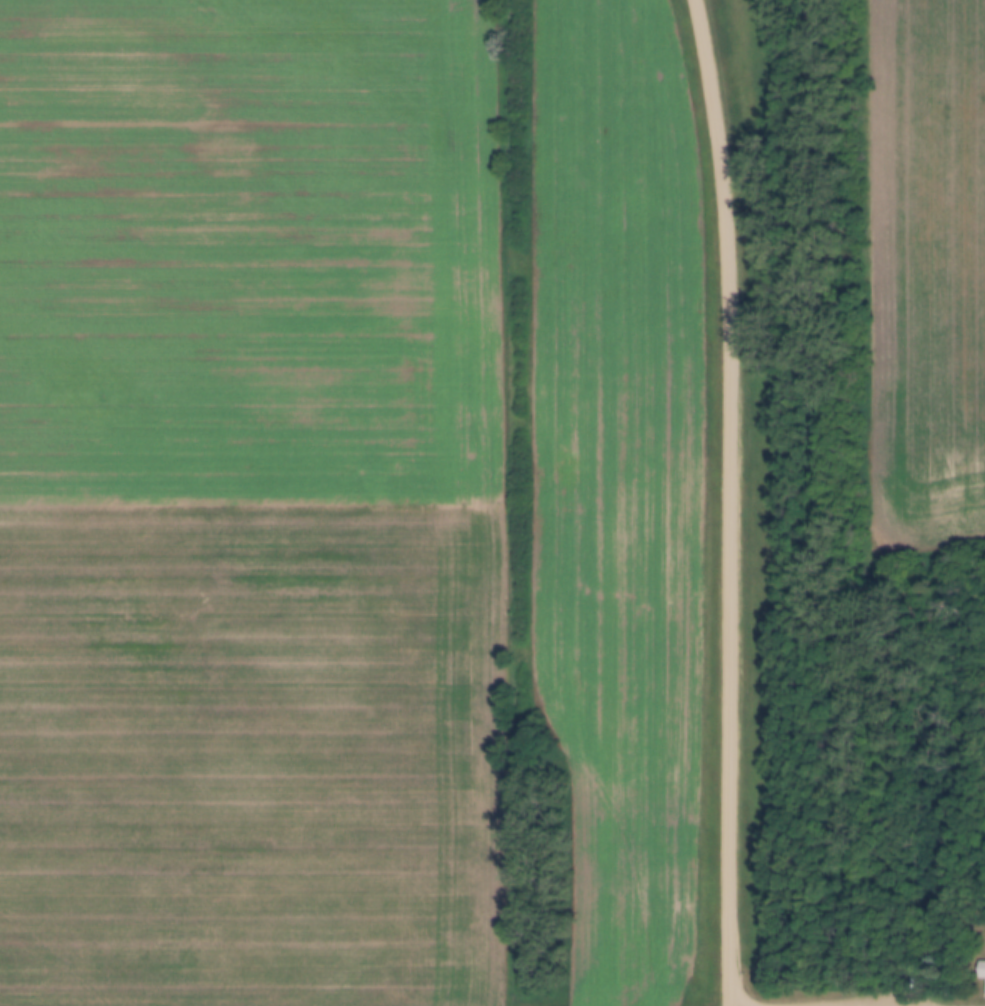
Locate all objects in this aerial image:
road: (729, 501)
building: (982, 970)

